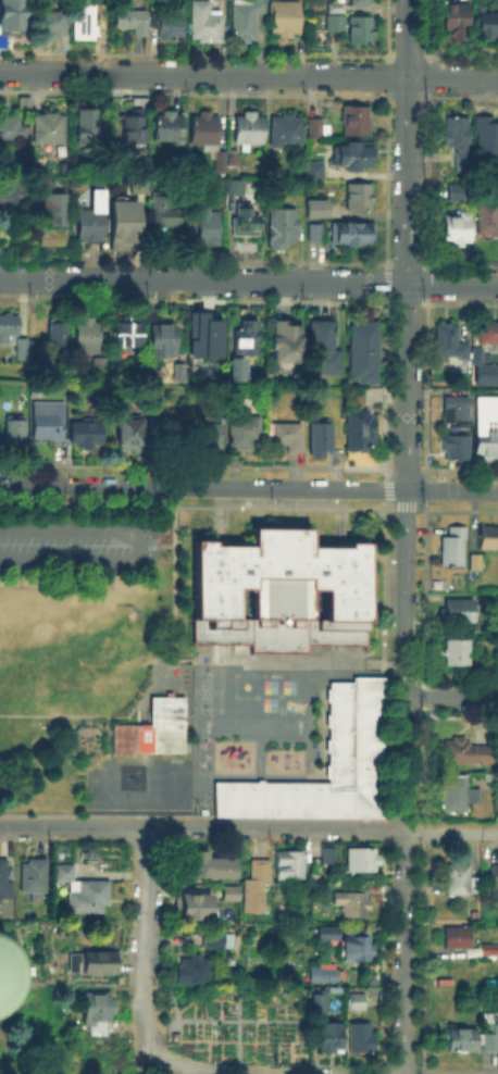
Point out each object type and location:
building: (363, 3)
building: (337, 16)
building: (85, 17)
building: (457, 18)
building: (248, 20)
building: (287, 20)
building: (12, 21)
building: (209, 22)
building: (132, 23)
building: (54, 25)
building: (487, 25)
building: (170, 26)
building: (361, 32)
road: (248, 75)
building: (357, 123)
building: (12, 128)
building: (88, 128)
building: (319, 128)
building: (50, 129)
building: (170, 129)
building: (250, 132)
building: (289, 133)
building: (135, 136)
building: (487, 137)
building: (459, 138)
building: (210, 139)
building: (356, 155)
building: (234, 160)
building: (316, 172)
building: (139, 185)
building: (238, 188)
building: (459, 193)
building: (14, 196)
building: (361, 199)
building: (319, 210)
building: (167, 212)
building: (126, 220)
building: (54, 221)
building: (247, 221)
building: (487, 222)
building: (90, 226)
building: (210, 229)
building: (284, 230)
building: (312, 230)
building: (458, 230)
building: (318, 234)
building: (353, 235)
road: (203, 280)
road: (452, 285)
building: (9, 328)
building: (58, 333)
building: (128, 334)
building: (486, 334)
building: (200, 335)
building: (88, 336)
building: (163, 340)
building: (282, 341)
building: (447, 341)
building: (248, 344)
building: (324, 350)
building: (24, 351)
building: (474, 353)
building: (34, 354)
building: (364, 354)
building: (101, 363)
building: (233, 367)
building: (482, 373)
building: (457, 410)
building: (46, 415)
building: (166, 425)
building: (361, 432)
building: (15, 433)
building: (86, 434)
building: (130, 434)
building: (247, 434)
building: (210, 435)
building: (287, 438)
building: (322, 438)
building: (486, 444)
building: (457, 449)
road: (249, 488)
road: (406, 536)
building: (489, 539)
road: (139, 546)
building: (455, 548)
building: (476, 565)
building: (281, 590)
building: (458, 613)
park: (20, 640)
park: (98, 647)
building: (458, 653)
road: (299, 661)
park: (245, 685)
park: (269, 685)
park: (287, 686)
park: (208, 689)
road: (451, 697)
park: (269, 702)
road: (114, 715)
track: (251, 725)
building: (357, 730)
building: (154, 732)
park: (203, 740)
building: (468, 754)
park: (203, 759)
building: (455, 795)
park: (202, 798)
road: (202, 827)
road: (450, 834)
building: (89, 852)
building: (324, 853)
building: (206, 862)
building: (363, 862)
building: (291, 866)
building: (66, 874)
building: (5, 877)
building: (35, 878)
building: (462, 881)
building: (495, 887)
building: (257, 888)
building: (234, 891)
building: (89, 896)
building: (199, 903)
building: (352, 904)
building: (328, 936)
road: (145, 938)
building: (458, 939)
building: (219, 940)
building: (357, 950)
building: (92, 964)
building: (190, 969)
building: (332, 974)
building: (321, 1003)
building: (359, 1003)
building: (99, 1009)
building: (333, 1038)
building: (362, 1039)
building: (461, 1040)
building: (490, 1044)
road: (192, 1067)

